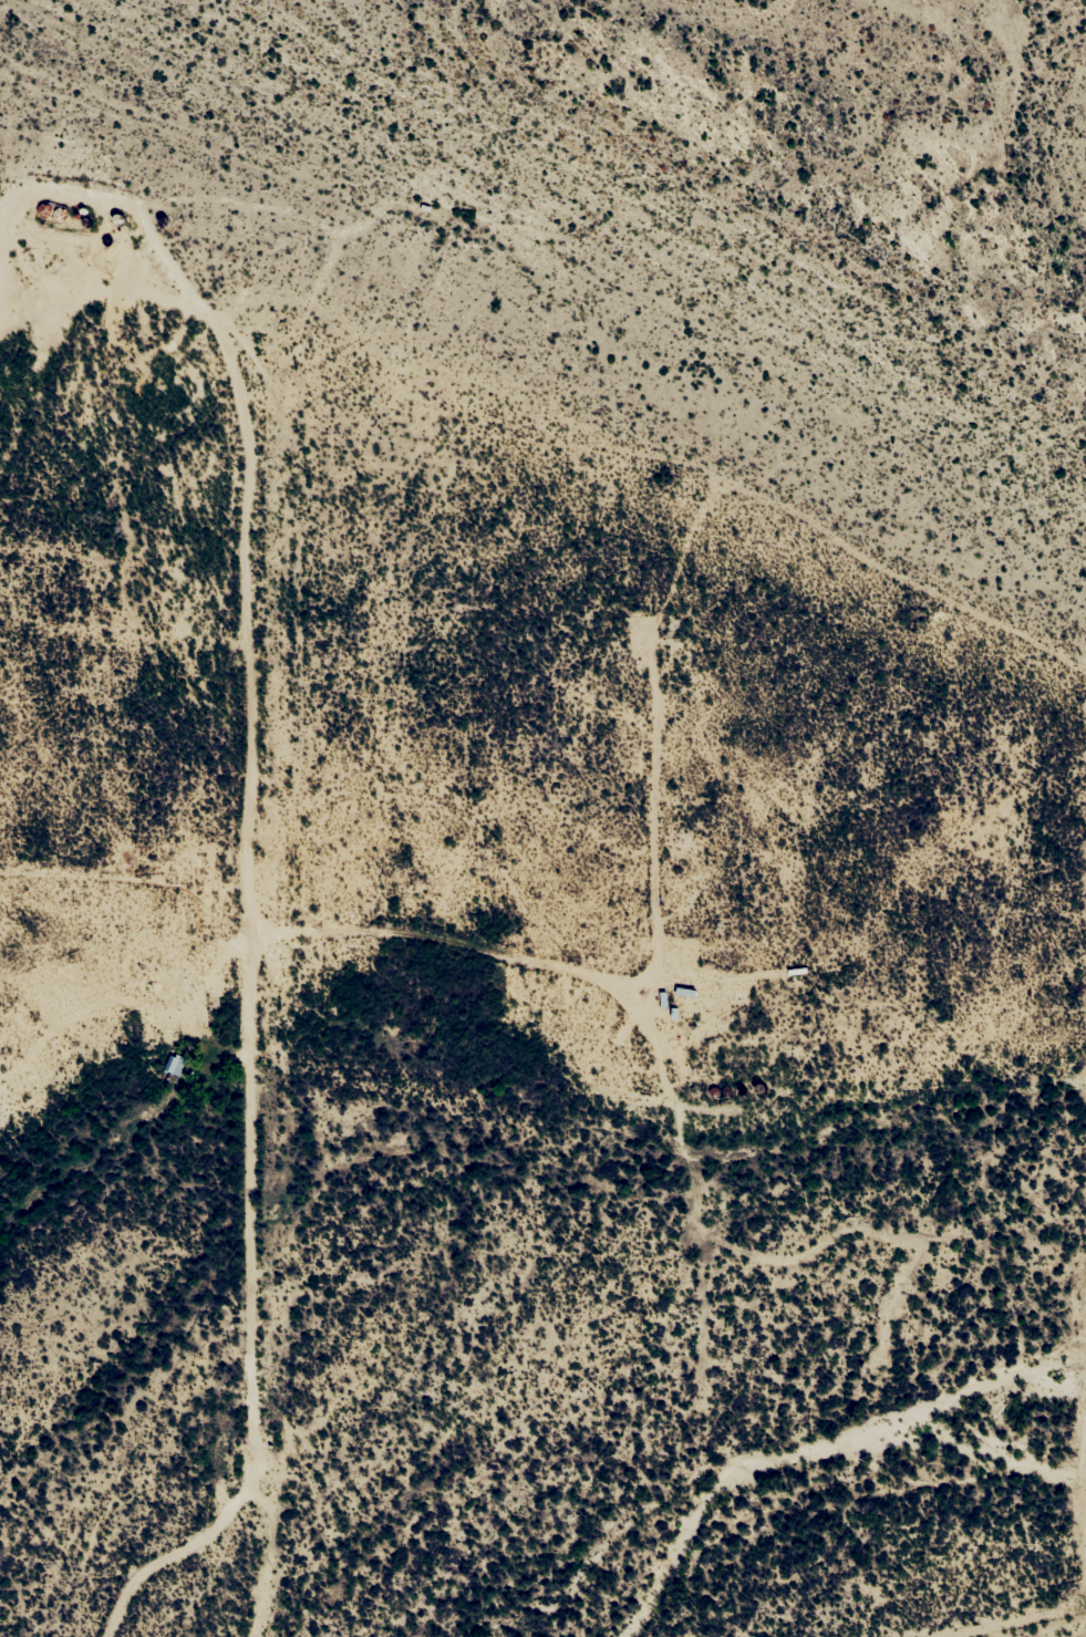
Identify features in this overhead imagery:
building: (173, 1064)

